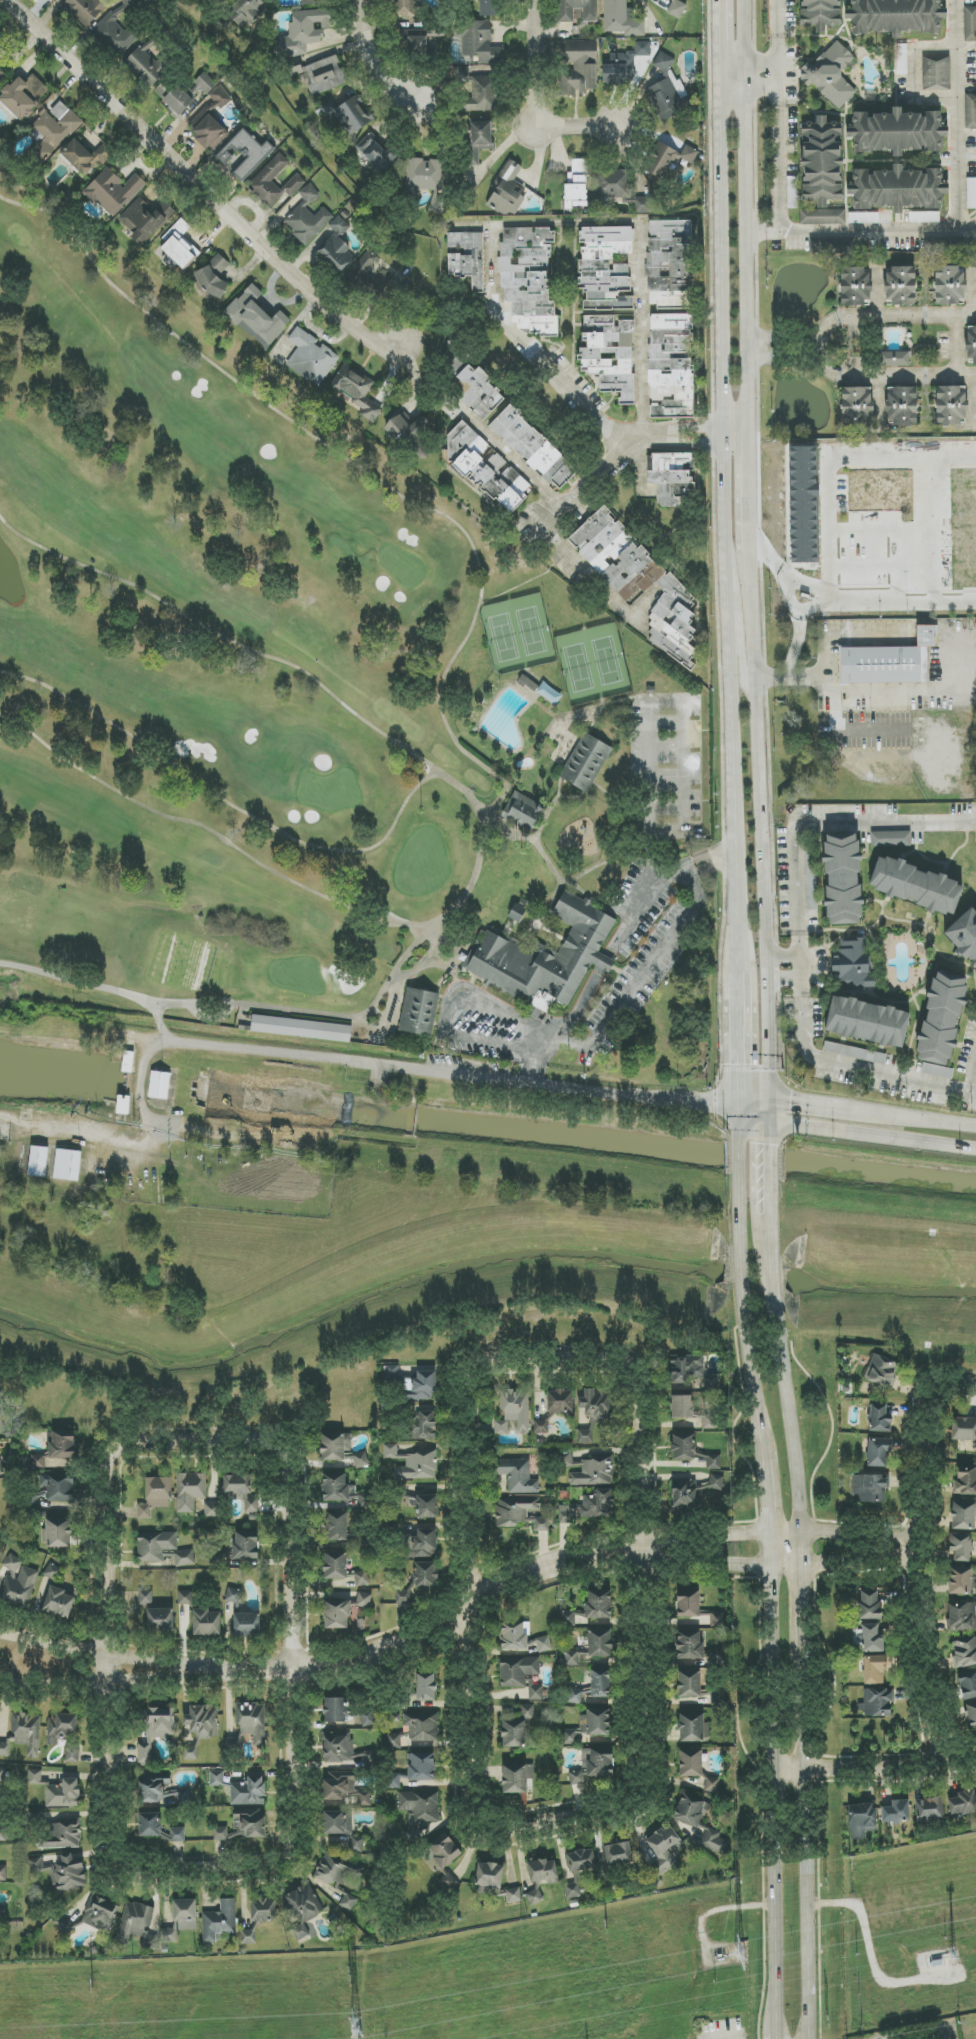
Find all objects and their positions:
building: (53, 0)
building: (308, 2)
building: (671, 5)
building: (402, 7)
building: (488, 8)
building: (85, 10)
building: (249, 11)
building: (820, 14)
building: (566, 15)
building: (896, 16)
building: (622, 19)
building: (970, 24)
building: (118, 28)
road: (722, 30)
building: (305, 31)
road: (776, 31)
building: (417, 44)
road: (745, 45)
building: (1, 49)
road: (750, 61)
road: (372, 62)
building: (625, 65)
road: (537, 66)
building: (147, 68)
building: (580, 69)
road: (917, 72)
building: (936, 74)
building: (2, 75)
road: (723, 75)
building: (830, 75)
road: (777, 77)
building: (205, 83)
building: (668, 91)
road: (749, 91)
building: (482, 93)
building: (23, 96)
building: (174, 98)
building: (970, 111)
building: (347, 114)
road: (957, 115)
building: (211, 122)
building: (54, 129)
road: (577, 130)
building: (896, 132)
building: (479, 140)
building: (246, 153)
building: (375, 153)
building: (689, 154)
building: (86, 156)
building: (665, 161)
road: (778, 161)
building: (822, 171)
building: (265, 177)
building: (426, 179)
road: (196, 180)
building: (576, 185)
building: (897, 189)
building: (620, 190)
building: (114, 191)
building: (507, 192)
building: (792, 192)
building: (971, 193)
building: (307, 217)
building: (145, 220)
road: (518, 224)
building: (339, 226)
road: (862, 232)
building: (179, 245)
building: (833, 246)
building: (335, 254)
building: (466, 258)
building: (670, 265)
road: (722, 266)
road: (749, 266)
building: (605, 267)
building: (371, 273)
building: (214, 275)
building: (528, 279)
building: (949, 285)
building: (855, 287)
building: (900, 287)
building: (256, 317)
road: (645, 332)
road: (956, 343)
building: (971, 343)
road: (786, 344)
road: (823, 344)
building: (610, 354)
building: (311, 358)
building: (894, 359)
building: (671, 366)
road: (556, 379)
building: (358, 392)
building: (856, 406)
building: (902, 406)
building: (951, 406)
building: (409, 434)
road: (684, 445)
building: (533, 448)
road: (510, 459)
road: (359, 468)
building: (486, 468)
building: (671, 477)
road: (750, 498)
building: (803, 504)
road: (550, 548)
building: (638, 582)
park: (519, 634)
road: (223, 636)
road: (741, 653)
building: (889, 662)
park: (594, 663)
building: (531, 681)
road: (913, 690)
building: (550, 694)
road: (837, 699)
road: (656, 702)
road: (731, 706)
park: (309, 716)
building: (586, 763)
building: (524, 811)
road: (260, 821)
road: (885, 824)
road: (764, 831)
road: (215, 833)
building: (891, 839)
building: (842, 879)
building: (916, 886)
building: (811, 887)
road: (626, 927)
building: (965, 935)
road: (421, 939)
road: (799, 941)
road: (438, 944)
road: (468, 946)
building: (546, 951)
building: (851, 963)
road: (800, 965)
road: (769, 970)
road: (78, 983)
building: (419, 1012)
road: (159, 1021)
building: (867, 1022)
building: (941, 1024)
building: (302, 1027)
road: (739, 1038)
road: (550, 1043)
road: (256, 1050)
building: (855, 1053)
traffic signals: (739, 1063)
road: (534, 1067)
road: (892, 1078)
road: (972, 1079)
building: (159, 1085)
road: (557, 1085)
traffic signals: (791, 1099)
road: (813, 1102)
traffic signals: (712, 1104)
road: (918, 1116)
road: (746, 1121)
road: (740, 1122)
road: (769, 1123)
road: (869, 1136)
road: (125, 1143)
traffic signals: (752, 1143)
traffic signals: (770, 1146)
road: (739, 1156)
road: (752, 1156)
road: (770, 1157)
building: (38, 1161)
building: (67, 1165)
road: (755, 1222)
road: (743, 1309)
road: (784, 1364)
road: (535, 1365)
building: (690, 1371)
building: (882, 1371)
building: (392, 1372)
building: (424, 1386)
road: (944, 1388)
building: (560, 1402)
building: (692, 1410)
building: (514, 1411)
building: (593, 1412)
building: (880, 1419)
building: (423, 1425)
building: (542, 1426)
building: (963, 1429)
road: (206, 1437)
building: (61, 1447)
building: (683, 1447)
building: (878, 1452)
building: (361, 1459)
building: (714, 1462)
building: (418, 1465)
building: (1, 1467)
building: (594, 1472)
building: (517, 1475)
building: (965, 1483)
building: (237, 1484)
building: (58, 1487)
building: (337, 1488)
building: (870, 1488)
building: (190, 1491)
building: (694, 1492)
road: (769, 1495)
building: (155, 1496)
building: (365, 1500)
building: (251, 1505)
building: (597, 1505)
building: (425, 1506)
building: (212, 1510)
building: (520, 1512)
building: (565, 1514)
building: (963, 1516)
building: (337, 1526)
building: (56, 1533)
building: (424, 1543)
building: (155, 1546)
building: (246, 1546)
building: (960, 1548)
road: (859, 1552)
building: (185, 1558)
building: (217, 1558)
building: (336, 1564)
building: (12, 1565)
building: (52, 1572)
building: (426, 1575)
building: (362, 1578)
building: (960, 1580)
road: (916, 1585)
building: (20, 1588)
building: (145, 1596)
building: (234, 1597)
building: (403, 1597)
road: (803, 1598)
building: (364, 1600)
building: (58, 1603)
building: (688, 1603)
building: (869, 1604)
building: (590, 1608)
building: (337, 1613)
building: (201, 1616)
building: (961, 1616)
building: (161, 1618)
building: (717, 1619)
building: (247, 1625)
building: (514, 1636)
building: (873, 1638)
building: (600, 1643)
building: (544, 1644)
road: (408, 1645)
building: (689, 1645)
building: (965, 1652)
building: (571, 1659)
building: (874, 1670)
building: (521, 1675)
building: (689, 1683)
building: (967, 1684)
building: (426, 1687)
building: (593, 1687)
building: (718, 1697)
building: (876, 1702)
building: (335, 1710)
building: (528, 1711)
building: (971, 1714)
building: (368, 1718)
building: (590, 1725)
building: (248, 1726)
building: (422, 1726)
building: (201, 1727)
building: (691, 1728)
building: (155, 1730)
building: (27, 1732)
building: (64, 1733)
building: (513, 1733)
building: (4, 1749)
building: (344, 1751)
building: (691, 1763)
building: (593, 1766)
building: (420, 1767)
road: (876, 1770)
building: (2, 1775)
building: (34, 1776)
building: (217, 1778)
building: (516, 1778)
building: (712, 1784)
building: (150, 1788)
building: (344, 1788)
building: (248, 1792)
building: (64, 1794)
road: (777, 1794)
building: (963, 1803)
building: (420, 1806)
building: (691, 1809)
building: (929, 1809)
building: (895, 1812)
building: (861, 1820)
road: (580, 1821)
building: (338, 1822)
building: (149, 1825)
building: (244, 1826)
building: (3, 1834)
building: (178, 1835)
building: (63, 1836)
building: (715, 1842)
building: (356, 1843)
road: (804, 1843)
building: (663, 1850)
building: (618, 1854)
building: (444, 1859)
building: (578, 1867)
building: (337, 1869)
road: (203, 1870)
building: (3, 1873)
building: (62, 1873)
building: (489, 1875)
building: (541, 1877)
power tower: (829, 1883)
building: (513, 1895)
building: (348, 1902)
building: (301, 1908)
building: (1, 1913)
building: (100, 1914)
building: (180, 1917)
building: (260, 1917)
building: (219, 1921)
building: (137, 1925)
power tower: (605, 1925)
power tower: (741, 1954)
power tower: (953, 1959)
power tower: (351, 1976)
power tower: (92, 1984)
power tower: (827, 2020)
power tower: (357, 2029)
road: (721, 2037)

